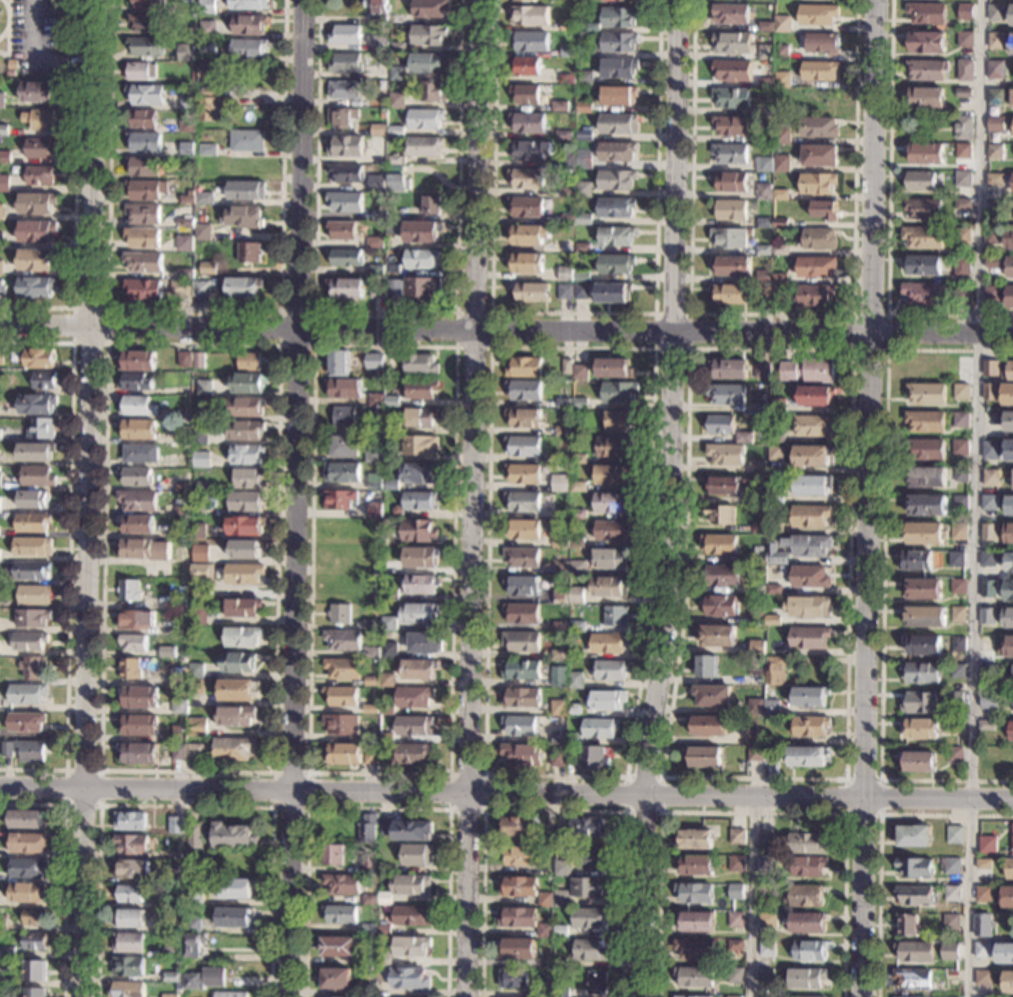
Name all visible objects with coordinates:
building: (525, 0)
building: (624, 0)
road: (5, 4)
building: (147, 4)
building: (248, 5)
building: (377, 6)
building: (206, 7)
building: (429, 8)
building: (187, 9)
building: (966, 12)
building: (926, 13)
building: (996, 13)
building: (730, 14)
building: (817, 15)
building: (529, 16)
building: (1011, 16)
building: (619, 17)
building: (379, 20)
building: (399, 20)
building: (146, 23)
building: (248, 24)
building: (783, 24)
building: (567, 26)
parking lot: (32, 27)
building: (591, 27)
building: (765, 27)
building: (207, 29)
road: (3, 31)
building: (187, 32)
building: (345, 35)
building: (428, 35)
road: (7, 36)
building: (966, 40)
building: (530, 41)
building: (997, 41)
building: (618, 42)
building: (925, 42)
building: (732, 43)
building: (379, 44)
building: (822, 44)
building: (1011, 44)
building: (206, 46)
building: (145, 47)
building: (247, 48)
building: (397, 48)
building: (567, 51)
building: (185, 52)
building: (765, 52)
building: (781, 52)
road: (3, 53)
road: (40, 54)
building: (428, 63)
building: (345, 64)
building: (12, 65)
building: (175, 66)
building: (526, 66)
building: (617, 67)
building: (926, 69)
building: (819, 70)
building: (995, 70)
building: (139, 71)
building: (732, 71)
building: (965, 71)
building: (209, 72)
building: (396, 73)
building: (380, 75)
building: (584, 78)
building: (566, 79)
building: (782, 80)
building: (765, 82)
building: (382, 85)
building: (344, 90)
building: (38, 92)
building: (206, 92)
building: (432, 92)
building: (801, 92)
building: (964, 93)
building: (524, 94)
building: (146, 95)
building: (618, 95)
building: (731, 97)
building: (996, 97)
building: (924, 98)
building: (1011, 99)
building: (1, 100)
building: (186, 101)
building: (396, 101)
building: (783, 104)
building: (559, 106)
building: (583, 107)
building: (209, 108)
building: (764, 111)
building: (342, 117)
building: (143, 119)
building: (424, 119)
building: (39, 120)
building: (527, 122)
building: (617, 124)
building: (995, 124)
building: (186, 126)
building: (731, 126)
building: (818, 127)
building: (963, 128)
building: (3, 130)
building: (378, 130)
building: (396, 131)
building: (780, 134)
building: (562, 135)
building: (583, 136)
building: (764, 139)
building: (246, 141)
building: (144, 143)
building: (345, 146)
building: (423, 146)
building: (39, 149)
building: (186, 149)
building: (207, 150)
building: (529, 150)
building: (616, 151)
building: (963, 151)
building: (995, 152)
building: (729, 153)
building: (925, 153)
building: (819, 155)
building: (5, 158)
building: (583, 159)
building: (395, 160)
building: (566, 161)
building: (781, 163)
building: (763, 164)
building: (142, 166)
building: (209, 168)
building: (395, 169)
building: (345, 173)
building: (39, 176)
building: (191, 176)
building: (526, 178)
building: (963, 179)
building: (995, 179)
building: (615, 180)
building: (729, 181)
building: (920, 181)
building: (4, 183)
building: (397, 183)
building: (817, 183)
building: (1012, 183)
building: (376, 184)
road: (73, 189)
building: (145, 190)
building: (582, 190)
building: (245, 191)
building: (763, 192)
building: (566, 193)
building: (780, 195)
building: (187, 198)
building: (203, 198)
building: (345, 202)
building: (35, 203)
building: (431, 205)
building: (963, 205)
building: (525, 206)
building: (615, 207)
building: (729, 209)
building: (923, 209)
building: (824, 210)
building: (997, 210)
building: (1, 212)
building: (142, 214)
building: (379, 216)
building: (242, 217)
building: (583, 219)
road: (888, 220)
building: (567, 221)
building: (763, 222)
building: (185, 223)
building: (378, 223)
building: (779, 223)
building: (394, 228)
building: (35, 231)
building: (341, 231)
building: (749, 231)
building: (201, 232)
building: (422, 232)
building: (527, 235)
building: (615, 235)
building: (963, 236)
building: (992, 236)
building: (924, 237)
building: (142, 238)
building: (728, 238)
building: (819, 239)
building: (1009, 239)
building: (1, 240)
building: (374, 242)
building: (184, 243)
building: (566, 247)
building: (582, 248)
building: (779, 249)
building: (596, 251)
building: (763, 251)
building: (249, 253)
building: (345, 258)
building: (421, 259)
building: (34, 260)
building: (143, 262)
building: (526, 263)
building: (615, 264)
building: (922, 264)
building: (992, 265)
building: (731, 266)
building: (816, 266)
building: (962, 267)
building: (1009, 267)
building: (1, 268)
building: (207, 269)
building: (392, 269)
building: (376, 270)
building: (185, 274)
building: (564, 274)
building: (581, 276)
building: (763, 277)
building: (779, 279)
building: (35, 287)
building: (244, 287)
building: (394, 287)
building: (420, 287)
building: (181, 288)
building: (345, 288)
building: (1, 289)
building: (201, 289)
building: (143, 290)
building: (377, 291)
building: (531, 292)
building: (565, 292)
building: (581, 292)
building: (612, 292)
building: (762, 293)
building: (729, 294)
building: (924, 294)
building: (991, 294)
building: (778, 295)
building: (813, 296)
building: (963, 296)
building: (1008, 297)
road: (193, 309)
road: (385, 312)
road: (490, 313)
road: (572, 313)
road: (771, 315)
road: (506, 328)
road: (70, 343)
road: (278, 346)
road: (312, 346)
road: (501, 348)
road: (688, 350)
road: (887, 352)
building: (0, 357)
building: (37, 358)
building: (184, 359)
building: (198, 360)
building: (137, 361)
building: (249, 361)
building: (374, 361)
building: (389, 362)
road: (687, 362)
building: (339, 363)
building: (420, 364)
building: (525, 367)
building: (566, 367)
building: (990, 368)
building: (614, 369)
building: (728, 369)
building: (761, 371)
building: (807, 371)
building: (580, 372)
building: (1007, 372)
building: (43, 380)
building: (134, 382)
building: (248, 382)
building: (204, 388)
building: (344, 389)
building: (420, 389)
building: (524, 390)
building: (185, 391)
building: (960, 391)
building: (619, 392)
building: (990, 392)
building: (926, 394)
building: (1007, 394)
building: (727, 395)
building: (815, 396)
building: (375, 400)
building: (392, 402)
building: (563, 403)
building: (579, 403)
building: (35, 404)
building: (135, 405)
building: (777, 406)
building: (0, 407)
building: (246, 407)
building: (761, 408)
building: (200, 413)
building: (184, 415)
building: (344, 416)
building: (420, 417)
building: (524, 418)
building: (618, 420)
building: (960, 420)
building: (925, 421)
building: (1008, 421)
building: (720, 425)
building: (814, 426)
building: (374, 428)
building: (392, 428)
building: (40, 429)
building: (137, 429)
building: (245, 430)
building: (563, 431)
building: (183, 436)
building: (199, 437)
building: (776, 437)
building: (744, 438)
building: (418, 445)
building: (523, 446)
building: (613, 446)
building: (344, 447)
building: (960, 447)
building: (925, 449)
building: (991, 450)
building: (1008, 450)
building: (35, 451)
building: (139, 454)
building: (246, 454)
building: (726, 454)
building: (775, 454)
building: (374, 455)
building: (811, 457)
building: (390, 458)
building: (562, 459)
building: (578, 459)
building: (183, 460)
building: (201, 460)
building: (757, 467)
building: (186, 471)
building: (342, 472)
building: (419, 473)
building: (523, 473)
building: (612, 474)
building: (960, 475)
building: (135, 476)
building: (37, 477)
building: (926, 477)
building: (248, 478)
building: (990, 478)
building: (374, 482)
building: (1012, 483)
building: (0, 484)
building: (391, 484)
building: (726, 485)
building: (811, 485)
building: (561, 486)
building: (578, 486)
building: (182, 487)
building: (199, 487)
building: (759, 496)
building: (776, 496)
road: (86, 498)
road: (294, 498)
road: (471, 498)
road: (869, 498)
road: (975, 498)
building: (339, 499)
road: (673, 499)
building: (32, 500)
building: (419, 500)
building: (137, 501)
building: (245, 501)
building: (523, 501)
building: (611, 502)
building: (960, 502)
building: (989, 503)
building: (926, 504)
building: (1008, 505)
building: (183, 508)
building: (198, 510)
building: (375, 510)
building: (397, 511)
building: (721, 514)
building: (387, 515)
building: (560, 515)
building: (578, 515)
building: (811, 516)
building: (32, 522)
building: (136, 525)
building: (245, 526)
building: (776, 528)
building: (522, 529)
building: (759, 529)
building: (198, 530)
building: (612, 530)
building: (179, 531)
building: (417, 531)
building: (959, 532)
building: (989, 532)
building: (925, 533)
building: (1008, 533)
building: (560, 538)
building: (384, 543)
building: (576, 543)
building: (720, 544)
building: (32, 546)
building: (812, 546)
building: (142, 549)
building: (248, 550)
road: (67, 553)
building: (200, 553)
building: (758, 556)
building: (776, 556)
building: (421, 557)
building: (521, 557)
building: (988, 558)
building: (610, 559)
building: (957, 559)
building: (915, 560)
building: (1008, 562)
building: (577, 568)
building: (561, 569)
road: (883, 569)
building: (31, 571)
building: (202, 573)
building: (243, 574)
building: (722, 575)
building: (811, 577)
building: (421, 584)
building: (522, 585)
building: (958, 586)
building: (609, 587)
building: (923, 589)
building: (989, 589)
building: (129, 590)
building: (759, 590)
building: (775, 590)
building: (1008, 590)
building: (200, 593)
building: (34, 595)
building: (389, 595)
building: (576, 595)
building: (560, 597)
building: (178, 602)
building: (722, 606)
building: (808, 607)
building: (242, 608)
building: (419, 613)
building: (521, 613)
building: (339, 614)
building: (958, 614)
building: (198, 616)
building: (615, 616)
building: (987, 616)
building: (757, 617)
building: (925, 617)
building: (1007, 617)
building: (31, 618)
building: (135, 620)
building: (774, 620)
building: (388, 624)
building: (372, 625)
building: (559, 626)
building: (577, 626)
building: (180, 627)
building: (369, 634)
building: (717, 635)
building: (242, 637)
building: (810, 638)
building: (343, 640)
building: (29, 642)
building: (424, 642)
building: (522, 642)
building: (133, 643)
building: (608, 643)
building: (958, 644)
building: (986, 644)
building: (923, 645)
building: (1006, 647)
building: (757, 648)
building: (389, 651)
building: (167, 652)
building: (373, 654)
building: (559, 655)
building: (237, 663)
building: (755, 666)
building: (707, 667)
building: (33, 668)
building: (130, 669)
building: (343, 669)
building: (420, 669)
building: (521, 670)
building: (611, 670)
building: (196, 671)
building: (958, 671)
building: (989, 671)
building: (775, 672)
building: (922, 673)
building: (1011, 674)
building: (558, 676)
building: (178, 680)
building: (387, 680)
building: (757, 680)
building: (371, 681)
building: (574, 681)
building: (195, 687)
building: (239, 690)
building: (27, 694)
building: (713, 695)
building: (341, 696)
building: (810, 696)
building: (139, 697)
building: (414, 697)
building: (956, 697)
building: (521, 698)
building: (607, 700)
building: (989, 700)
building: (919, 703)
building: (755, 706)
building: (179, 707)
building: (558, 708)
building: (772, 708)
building: (576, 709)
building: (370, 710)
building: (386, 710)
building: (235, 717)
building: (26, 722)
building: (341, 724)
building: (986, 724)
building: (139, 725)
building: (519, 725)
building: (414, 726)
building: (708, 726)
building: (811, 726)
building: (956, 727)
building: (600, 728)
building: (921, 728)
building: (195, 731)
building: (1011, 731)
building: (178, 733)
building: (387, 737)
building: (755, 737)
building: (371, 738)
building: (558, 739)
building: (574, 739)
building: (771, 742)
building: (6, 749)
building: (233, 749)
building: (29, 751)
building: (178, 752)
building: (195, 752)
building: (570, 752)
building: (139, 753)
building: (342, 753)
building: (413, 753)
building: (755, 754)
building: (773, 754)
building: (523, 755)
building: (955, 755)
building: (371, 756)
building: (383, 756)
building: (809, 756)
building: (704, 757)
building: (557, 758)
building: (594, 759)
building: (919, 761)
road: (272, 773)
road: (41, 786)
road: (548, 793)
road: (98, 806)
road: (183, 806)
road: (305, 808)
road: (376, 808)
road: (448, 810)
road: (553, 811)
road: (625, 812)
road: (750, 812)
road: (845, 815)
building: (28, 820)
building: (130, 821)
building: (176, 825)
building: (520, 826)
building: (386, 827)
building: (368, 828)
building: (588, 828)
building: (412, 830)
building: (195, 835)
building: (955, 835)
building: (232, 836)
building: (559, 836)
building: (914, 836)
building: (737, 837)
building: (548, 838)
road: (878, 839)
building: (694, 840)
building: (766, 841)
building: (28, 843)
building: (132, 844)
building: (806, 844)
building: (988, 844)
building: (1012, 844)
building: (177, 855)
building: (334, 855)
building: (416, 855)
building: (519, 856)
building: (592, 859)
building: (736, 864)
building: (984, 864)
building: (369, 865)
building: (695, 865)
building: (768, 865)
building: (808, 866)
building: (952, 866)
building: (27, 868)
building: (563, 868)
building: (916, 868)
road: (62, 869)
building: (131, 869)
building: (384, 869)
building: (1009, 869)
building: (172, 873)
building: (342, 884)
building: (411, 885)
building: (518, 887)
building: (588, 887)
building: (236, 888)
building: (766, 891)
building: (735, 892)
building: (27, 893)
building: (695, 893)
building: (953, 893)
building: (129, 894)
building: (984, 894)
road: (749, 895)
building: (915, 895)
building: (803, 896)
building: (369, 897)
building: (1008, 897)
building: (194, 898)
building: (385, 898)
building: (562, 899)
building: (546, 900)
building: (340, 914)
building: (34, 916)
building: (412, 916)
building: (234, 917)
building: (130, 918)
building: (517, 918)
building: (589, 918)
building: (767, 919)
building: (735, 920)
building: (696, 922)
building: (951, 922)
building: (3, 923)
building: (805, 923)
building: (908, 925)
building: (983, 925)
building: (193, 926)
building: (368, 929)
building: (544, 930)
building: (383, 931)
building: (560, 931)
building: (33, 941)
building: (128, 943)
building: (735, 945)
building: (192, 947)
building: (338, 947)
building: (410, 947)
building: (767, 948)
building: (518, 949)
building: (695, 949)
building: (951, 950)
building: (983, 950)
building: (590, 951)
building: (809, 951)
building: (915, 951)
building: (170, 952)
building: (7, 953)
building: (1005, 953)
building: (383, 959)
building: (368, 960)
building: (560, 963)
building: (129, 967)
building: (35, 971)
building: (952, 974)
building: (382, 975)
building: (358, 976)
building: (735, 976)
building: (171, 977)
building: (694, 977)
building: (765, 977)
building: (204, 978)
building: (513, 978)
building: (805, 978)
building: (984, 978)
building: (335, 979)
building: (409, 979)
building: (913, 979)
building: (1008, 982)
building: (597, 983)
building: (126, 989)
building: (5, 991)
building: (560, 992)
building: (34, 993)
building: (230, 994)
building: (544, 994)
building: (169, 995)
building: (686, 996)
building: (734, 996)
building: (765, 996)
building: (803, 996)
building: (904, 996)

